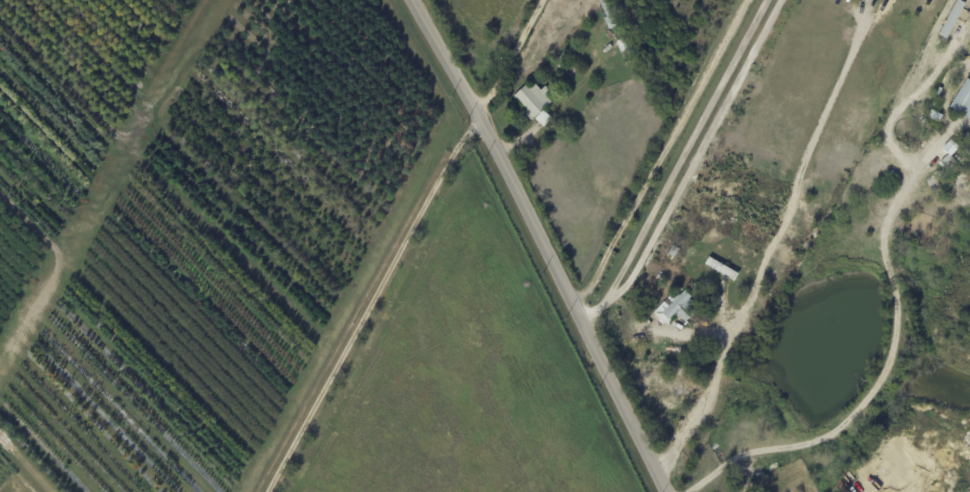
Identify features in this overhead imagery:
building: (604, 2)
building: (951, 18)
building: (610, 19)
building: (572, 49)
building: (625, 51)
road: (511, 58)
building: (562, 60)
building: (643, 80)
building: (534, 100)
building: (963, 100)
building: (544, 118)
building: (967, 138)
road: (687, 146)
road: (664, 154)
building: (949, 162)
road: (692, 167)
road: (541, 242)
road: (772, 246)
building: (674, 251)
building: (720, 268)
building: (709, 294)
building: (698, 299)
road: (370, 302)
building: (676, 307)
road: (886, 368)
building: (739, 478)

